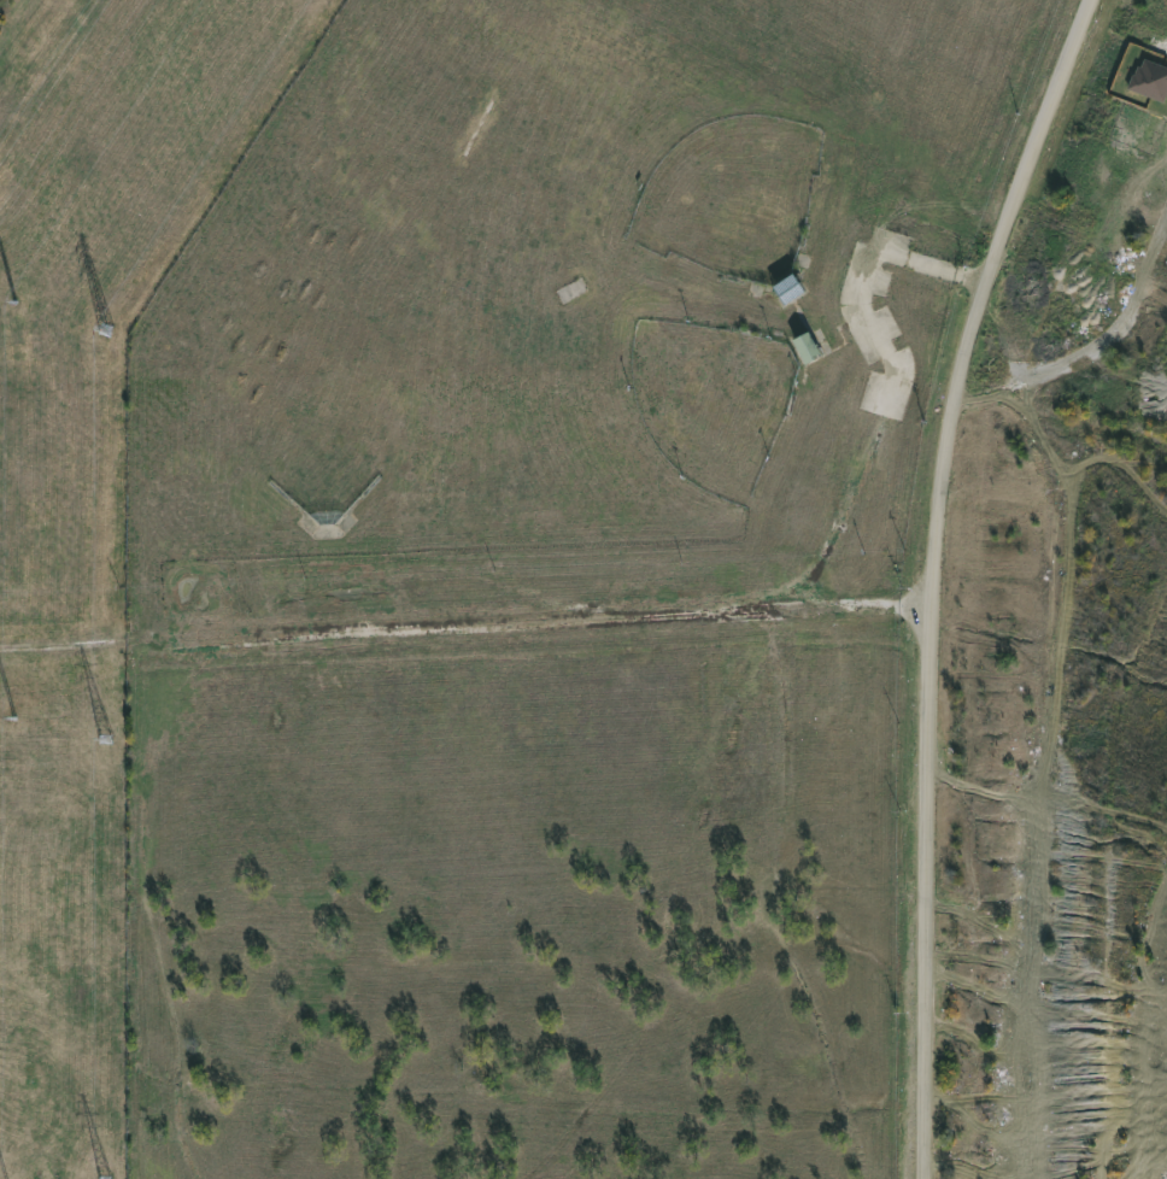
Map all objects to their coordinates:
park: (737, 194)
building: (792, 287)
power tower: (18, 300)
power tower: (112, 329)
building: (813, 354)
road: (1097, 364)
park: (708, 401)
road: (939, 577)
park: (544, 587)
road: (468, 629)
power tower: (16, 718)
power tower: (111, 740)

